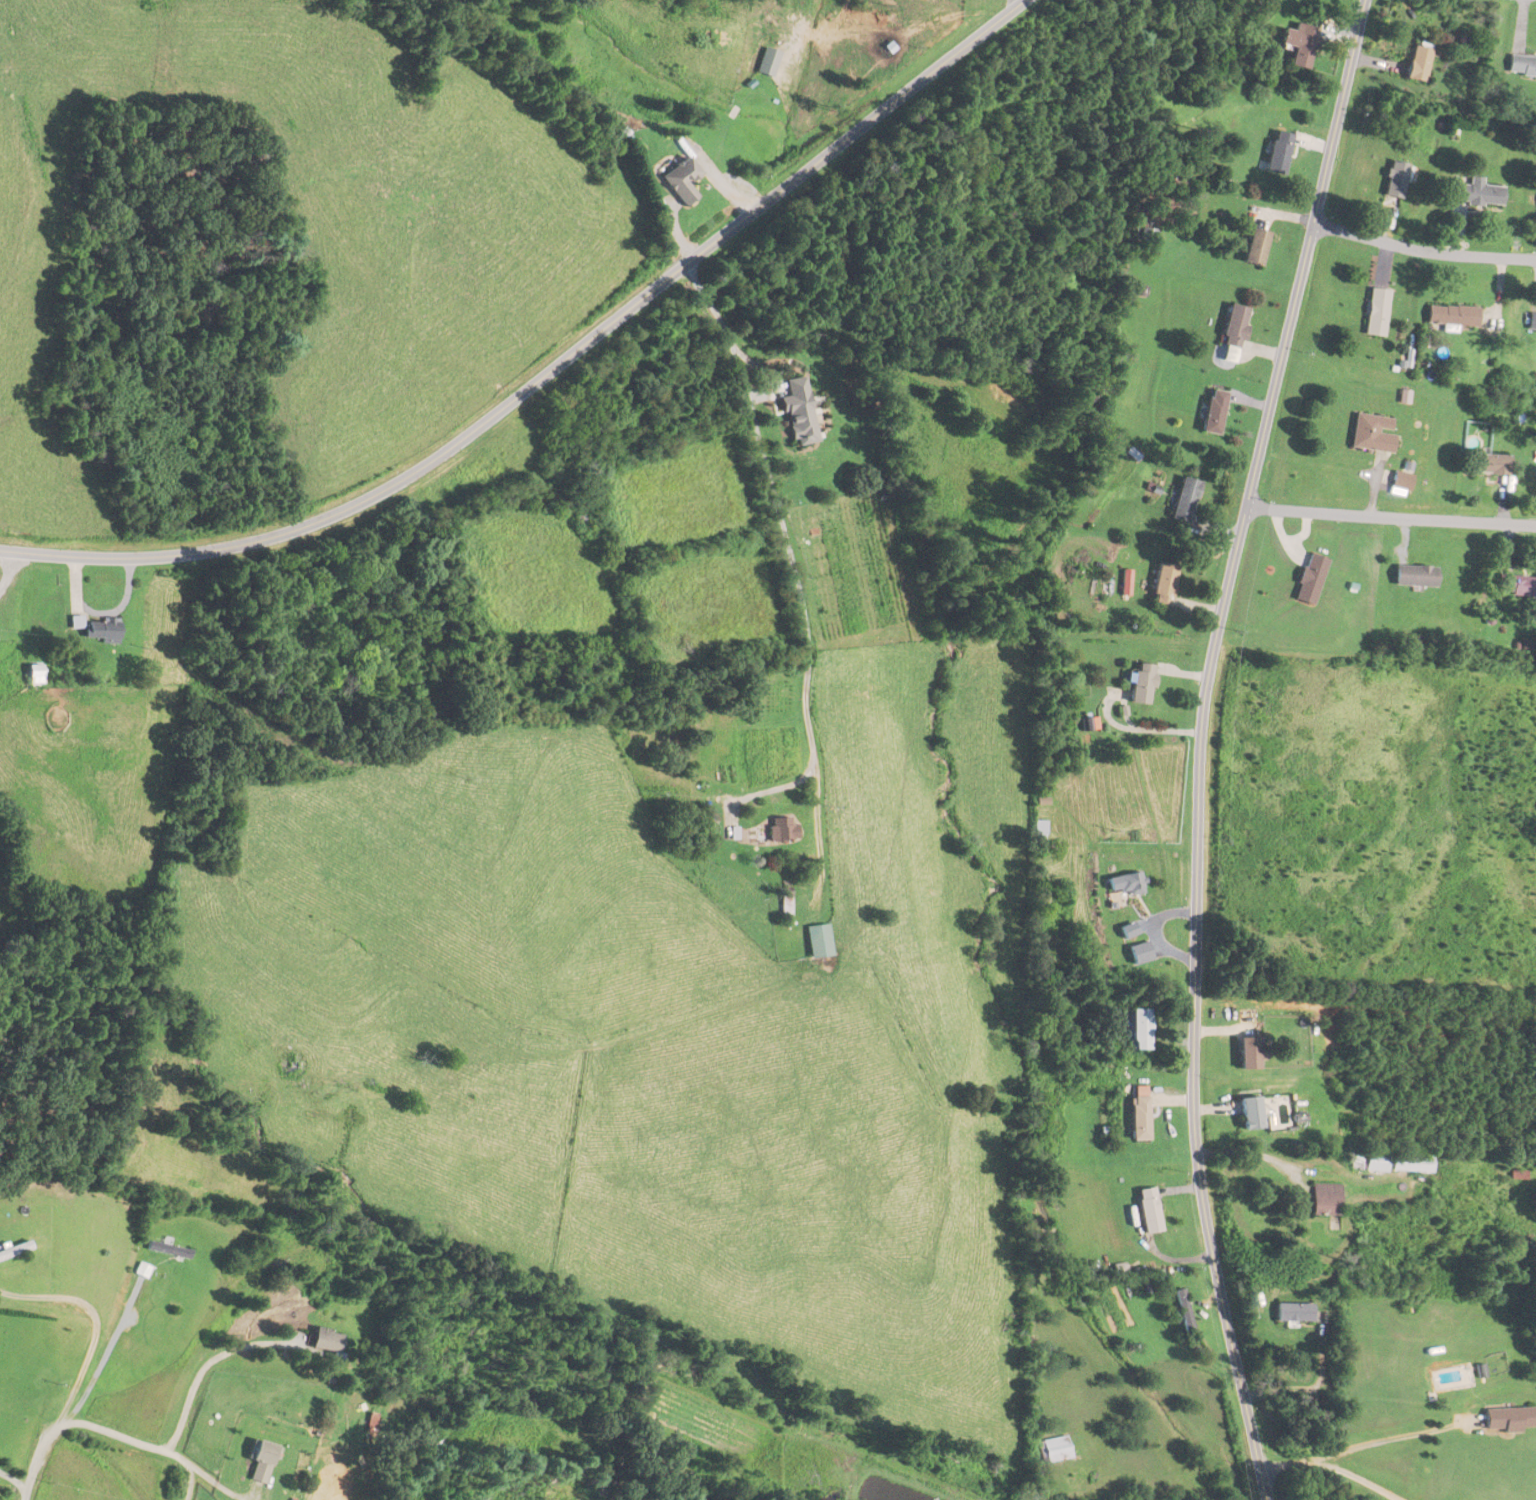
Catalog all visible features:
road: (1015, 2)
building: (1302, 43)
building: (1420, 61)
building: (1522, 65)
building: (1279, 152)
building: (1398, 178)
building: (681, 179)
building: (1477, 192)
building: (1148, 235)
building: (1256, 246)
road: (1423, 251)
building: (1378, 311)
building: (1453, 316)
building: (1532, 323)
building: (1234, 334)
road: (550, 370)
building: (1215, 412)
building: (798, 413)
building: (1374, 433)
building: (1492, 464)
building: (1402, 483)
building: (1186, 500)
road: (1391, 518)
road: (793, 573)
building: (1416, 576)
building: (1311, 579)
building: (1165, 582)
building: (1516, 586)
road: (1381, 605)
building: (96, 629)
building: (1142, 684)
road: (1200, 744)
road: (767, 787)
building: (782, 830)
building: (1127, 884)
building: (785, 903)
building: (1128, 932)
building: (818, 941)
building: (1141, 953)
building: (1142, 1026)
building: (1251, 1053)
building: (1141, 1114)
building: (1252, 1114)
building: (1378, 1162)
building: (1413, 1163)
building: (1327, 1200)
building: (1149, 1211)
building: (168, 1250)
building: (14, 1251)
building: (142, 1270)
building: (1184, 1313)
building: (1295, 1313)
road: (96, 1326)
building: (326, 1341)
road: (206, 1365)
building: (1509, 1421)
road: (86, 1425)
road: (1383, 1441)
building: (1055, 1450)
building: (261, 1463)
road: (1331, 1465)
road: (187, 1482)

